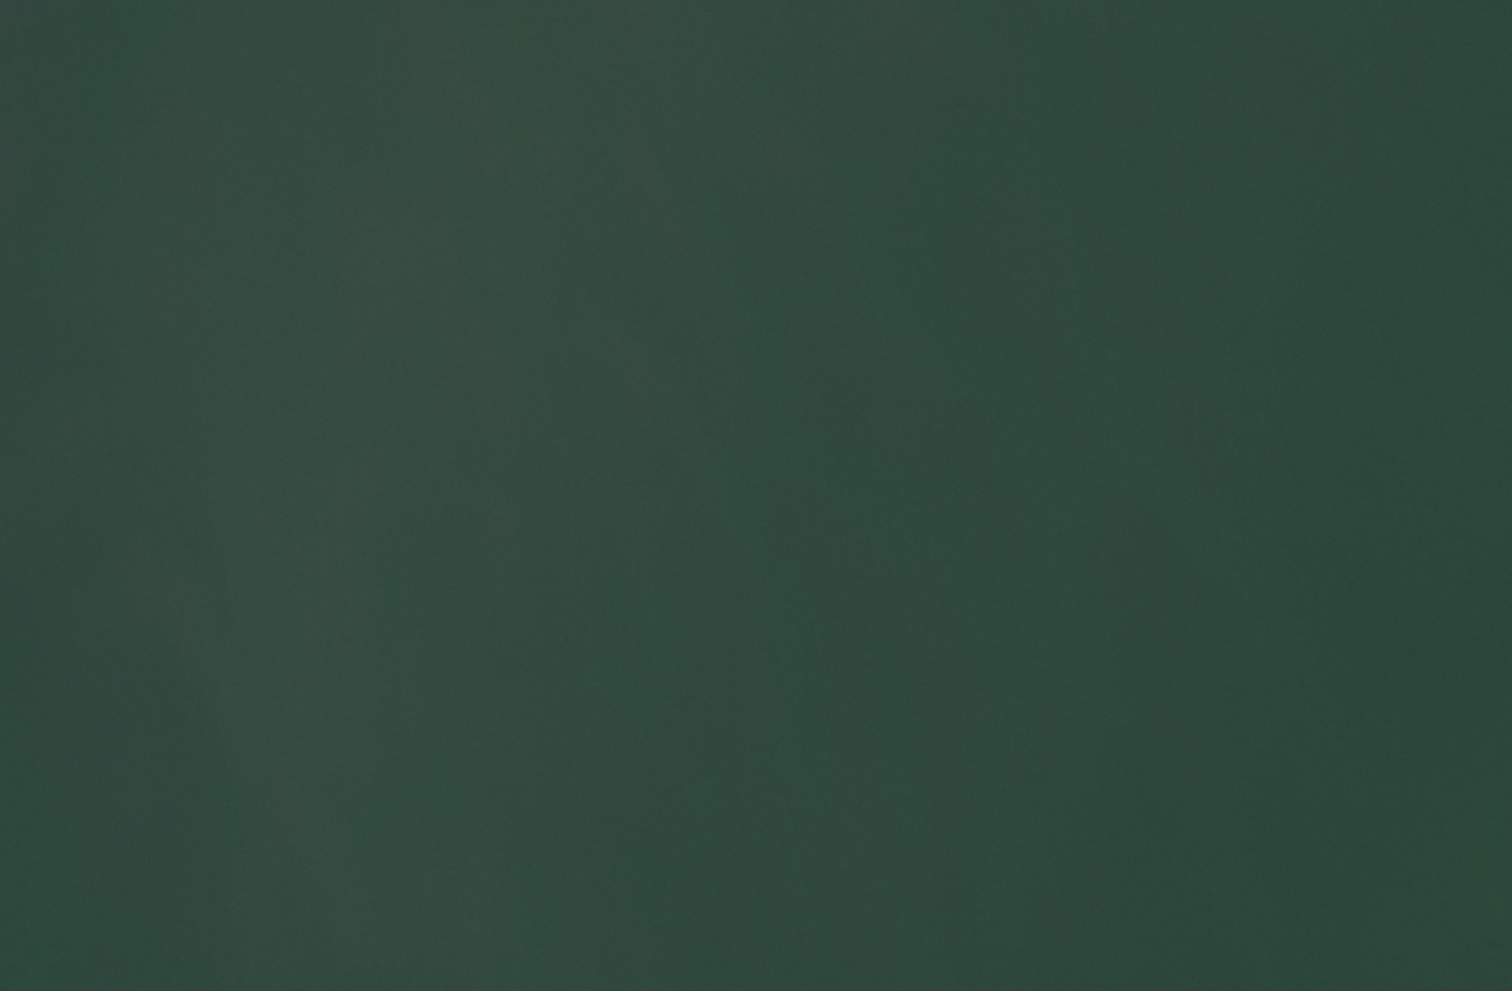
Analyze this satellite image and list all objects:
river: (737, 495)

